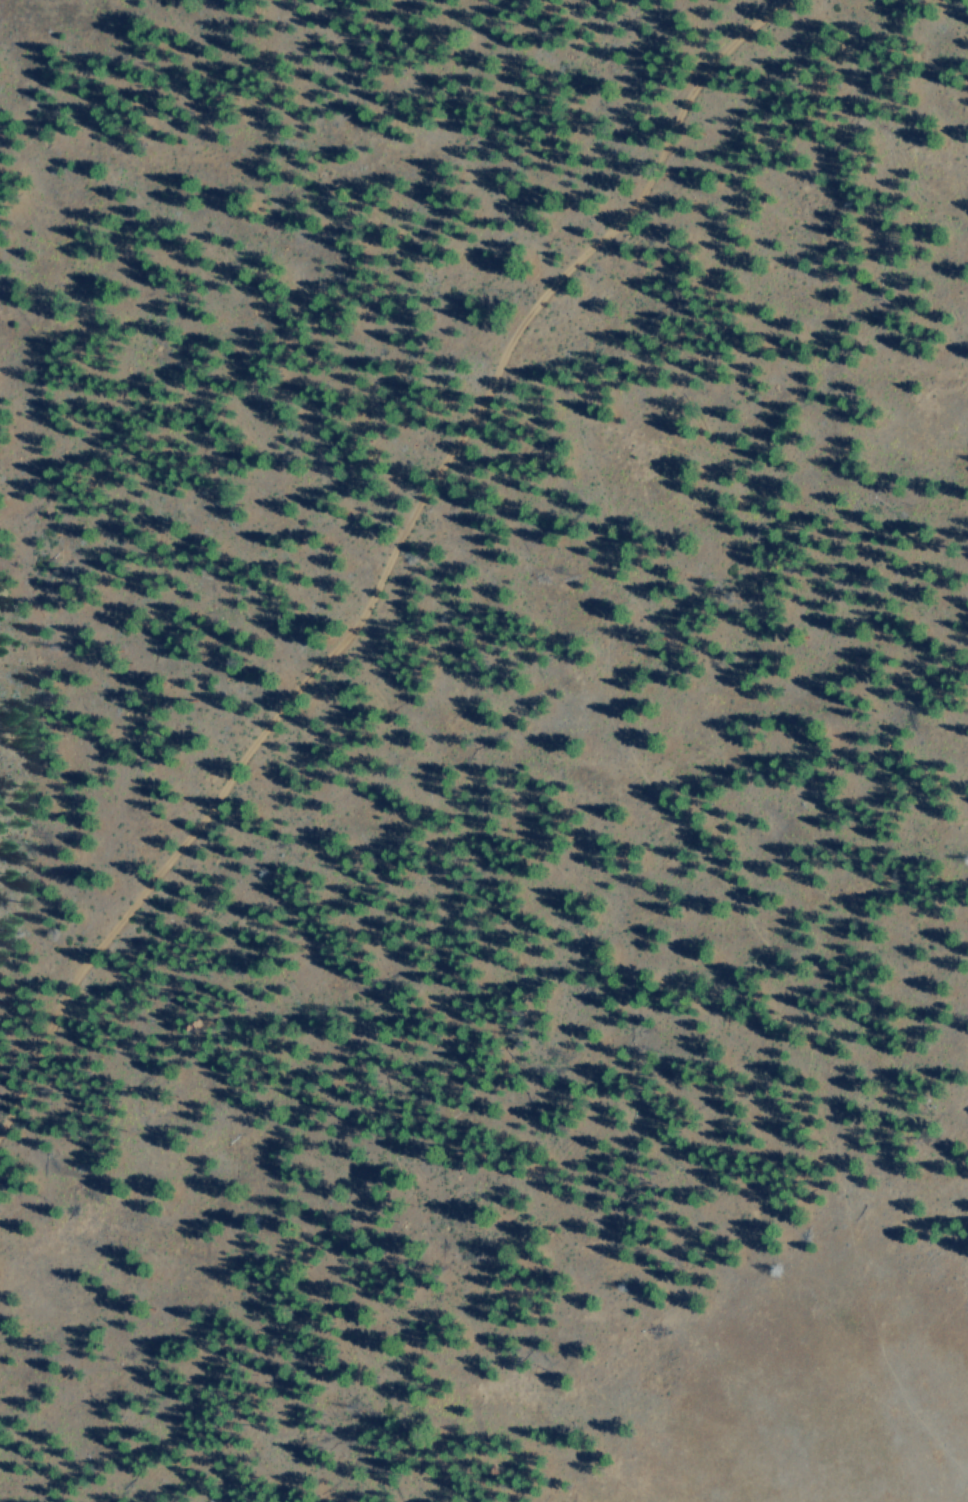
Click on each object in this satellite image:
road: (374, 513)
road: (735, 1461)

